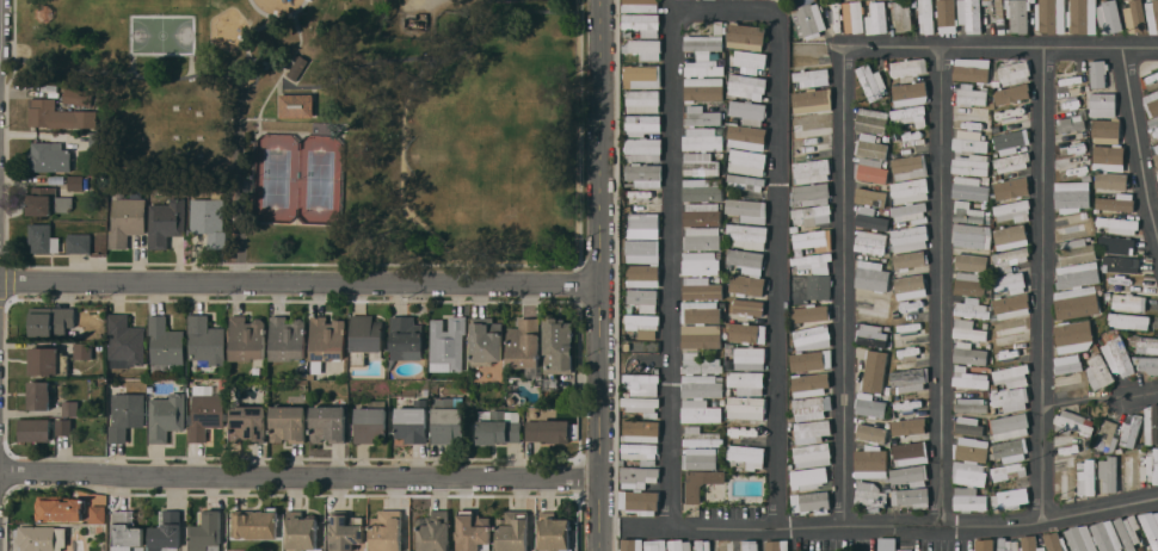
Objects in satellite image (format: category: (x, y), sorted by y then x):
building: (640, 5)
road: (725, 13)
building: (900, 14)
building: (1018, 14)
building: (852, 16)
building: (924, 16)
building: (946, 16)
building: (968, 16)
building: (997, 16)
building: (1049, 16)
building: (1082, 16)
building: (1152, 16)
building: (875, 17)
building: (1108, 17)
building: (1134, 17)
building: (807, 20)
building: (641, 23)
building: (745, 36)
building: (702, 43)
building: (807, 47)
building: (646, 48)
road: (999, 48)
building: (747, 60)
building: (298, 66)
building: (703, 66)
building: (907, 66)
building: (972, 69)
building: (1097, 72)
building: (1014, 73)
building: (1148, 74)
building: (641, 75)
building: (813, 75)
building: (871, 81)
building: (746, 86)
building: (703, 88)
building: (910, 92)
building: (1011, 93)
building: (969, 94)
building: (78, 97)
building: (1070, 97)
building: (812, 99)
building: (642, 100)
building: (1151, 103)
building: (297, 104)
building: (1102, 104)
building: (747, 111)
building: (58, 114)
building: (701, 114)
building: (910, 114)
building: (1012, 116)
building: (971, 117)
building: (871, 119)
building: (1072, 122)
building: (812, 123)
park: (351, 124)
building: (641, 124)
building: (1153, 129)
building: (1105, 130)
building: (745, 136)
building: (703, 138)
building: (98, 140)
building: (910, 140)
building: (1010, 140)
building: (969, 141)
building: (871, 146)
building: (1071, 146)
road: (1137, 148)
building: (642, 149)
building: (700, 155)
building: (1156, 155)
building: (1108, 156)
building: (48, 157)
building: (746, 161)
building: (1010, 162)
building: (971, 163)
building: (910, 166)
building: (701, 167)
building: (870, 169)
building: (1070, 169)
building: (811, 171)
building: (643, 174)
building: (1157, 174)
building: (1110, 179)
building: (75, 182)
building: (745, 184)
building: (969, 187)
building: (1011, 187)
building: (702, 188)
building: (910, 190)
building: (811, 193)
building: (870, 196)
building: (1071, 196)
building: (1157, 197)
building: (643, 198)
building: (47, 200)
building: (1116, 202)
building: (702, 205)
building: (746, 210)
building: (1012, 210)
building: (967, 211)
building: (910, 212)
building: (812, 215)
building: (702, 217)
building: (209, 218)
building: (870, 218)
building: (125, 219)
building: (166, 222)
building: (642, 223)
building: (1117, 224)
building: (1073, 228)
building: (746, 235)
building: (971, 235)
building: (1010, 235)
building: (43, 237)
building: (702, 237)
building: (908, 237)
building: (813, 239)
building: (870, 241)
building: (78, 242)
building: (1117, 243)
building: (641, 250)
building: (1076, 250)
building: (910, 259)
building: (1010, 259)
building: (745, 260)
building: (812, 261)
building: (971, 261)
building: (701, 262)
building: (1121, 264)
road: (673, 268)
road: (781, 273)
road: (600, 274)
building: (642, 274)
building: (871, 274)
building: (1078, 274)
building: (1009, 281)
road: (300, 283)
building: (969, 283)
building: (1129, 283)
building: (746, 284)
road: (1040, 284)
building: (819, 286)
building: (910, 286)
road: (842, 287)
road: (940, 287)
building: (701, 289)
building: (642, 298)
building: (1077, 302)
building: (1128, 302)
building: (1011, 303)
building: (910, 307)
building: (873, 308)
building: (972, 308)
building: (745, 309)
building: (701, 311)
building: (809, 312)
building: (50, 320)
building: (1128, 320)
building: (642, 324)
building: (968, 329)
building: (1009, 329)
building: (746, 332)
building: (910, 333)
building: (701, 335)
building: (871, 335)
building: (1073, 335)
building: (365, 336)
building: (812, 336)
building: (246, 338)
building: (287, 338)
building: (406, 338)
building: (205, 340)
building: (327, 340)
building: (486, 340)
building: (124, 341)
building: (449, 341)
building: (1145, 342)
building: (524, 343)
building: (165, 345)
building: (558, 345)
building: (82, 349)
building: (1012, 352)
building: (968, 353)
building: (910, 354)
building: (1117, 355)
building: (749, 357)
building: (811, 359)
building: (47, 361)
building: (1146, 361)
building: (1067, 363)
building: (700, 364)
building: (874, 370)
building: (1098, 372)
building: (1011, 376)
building: (971, 378)
building: (908, 379)
building: (746, 382)
building: (639, 384)
building: (809, 384)
building: (701, 385)
building: (1068, 386)
road: (1138, 394)
building: (38, 395)
building: (1010, 398)
building: (908, 403)
building: (869, 404)
building: (972, 404)
building: (640, 405)
building: (746, 407)
building: (809, 407)
building: (70, 408)
building: (700, 410)
building: (205, 411)
building: (125, 415)
building: (166, 417)
building: (446, 419)
building: (247, 422)
building: (370, 422)
building: (412, 422)
building: (1072, 422)
building: (288, 423)
building: (327, 423)
building: (1151, 423)
building: (1010, 425)
building: (63, 426)
building: (908, 426)
building: (497, 427)
building: (975, 427)
building: (33, 429)
building: (1131, 429)
building: (547, 431)
building: (640, 431)
building: (747, 431)
building: (811, 431)
building: (870, 432)
building: (1105, 434)
building: (701, 437)
building: (1067, 447)
building: (971, 448)
building: (1010, 448)
building: (640, 452)
building: (910, 452)
building: (746, 454)
building: (812, 454)
building: (701, 457)
building: (870, 462)
building: (1150, 466)
building: (1131, 469)
building: (1009, 471)
building: (968, 472)
building: (1109, 472)
building: (908, 475)
road: (298, 476)
building: (637, 476)
building: (808, 477)
building: (1086, 477)
building: (1067, 481)
building: (700, 482)
building: (870, 494)
building: (910, 496)
building: (1009, 497)
building: (968, 499)
building: (639, 500)
building: (811, 501)
building: (60, 507)
building: (98, 513)
building: (255, 522)
road: (615, 526)
road: (895, 527)
building: (1151, 527)
building: (165, 530)
building: (345, 530)
building: (472, 530)
building: (302, 531)
building: (386, 531)
building: (433, 531)
building: (512, 531)
building: (554, 531)
building: (1127, 531)
building: (125, 532)
building: (205, 532)
building: (1105, 535)
building: (36, 538)
building: (1080, 538)
building: (1055, 541)
building: (886, 543)
building: (1030, 543)
building: (632, 544)
building: (655, 544)
building: (678, 544)
building: (1008, 544)
building: (701, 545)
building: (729, 545)
building: (750, 545)
building: (777, 545)
building: (985, 545)
building: (235, 550)

